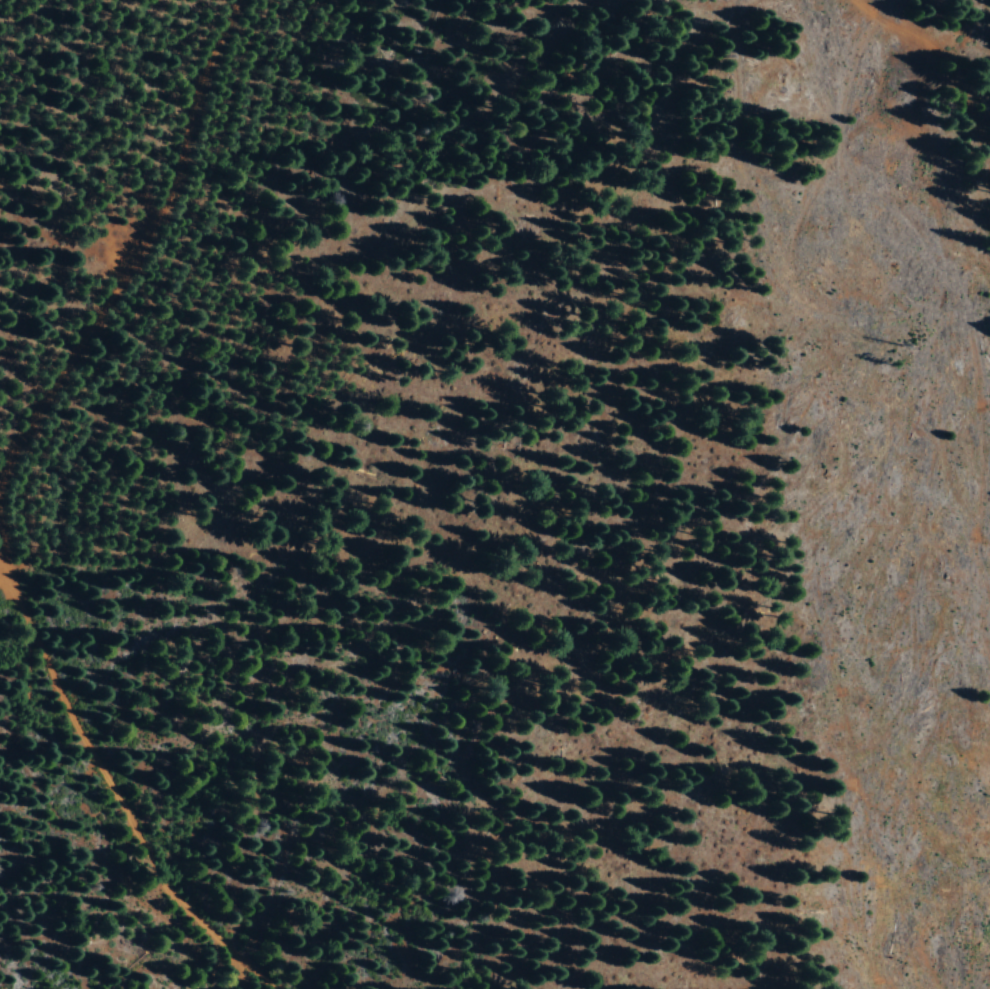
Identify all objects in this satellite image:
road: (154, 276)
road: (117, 803)

